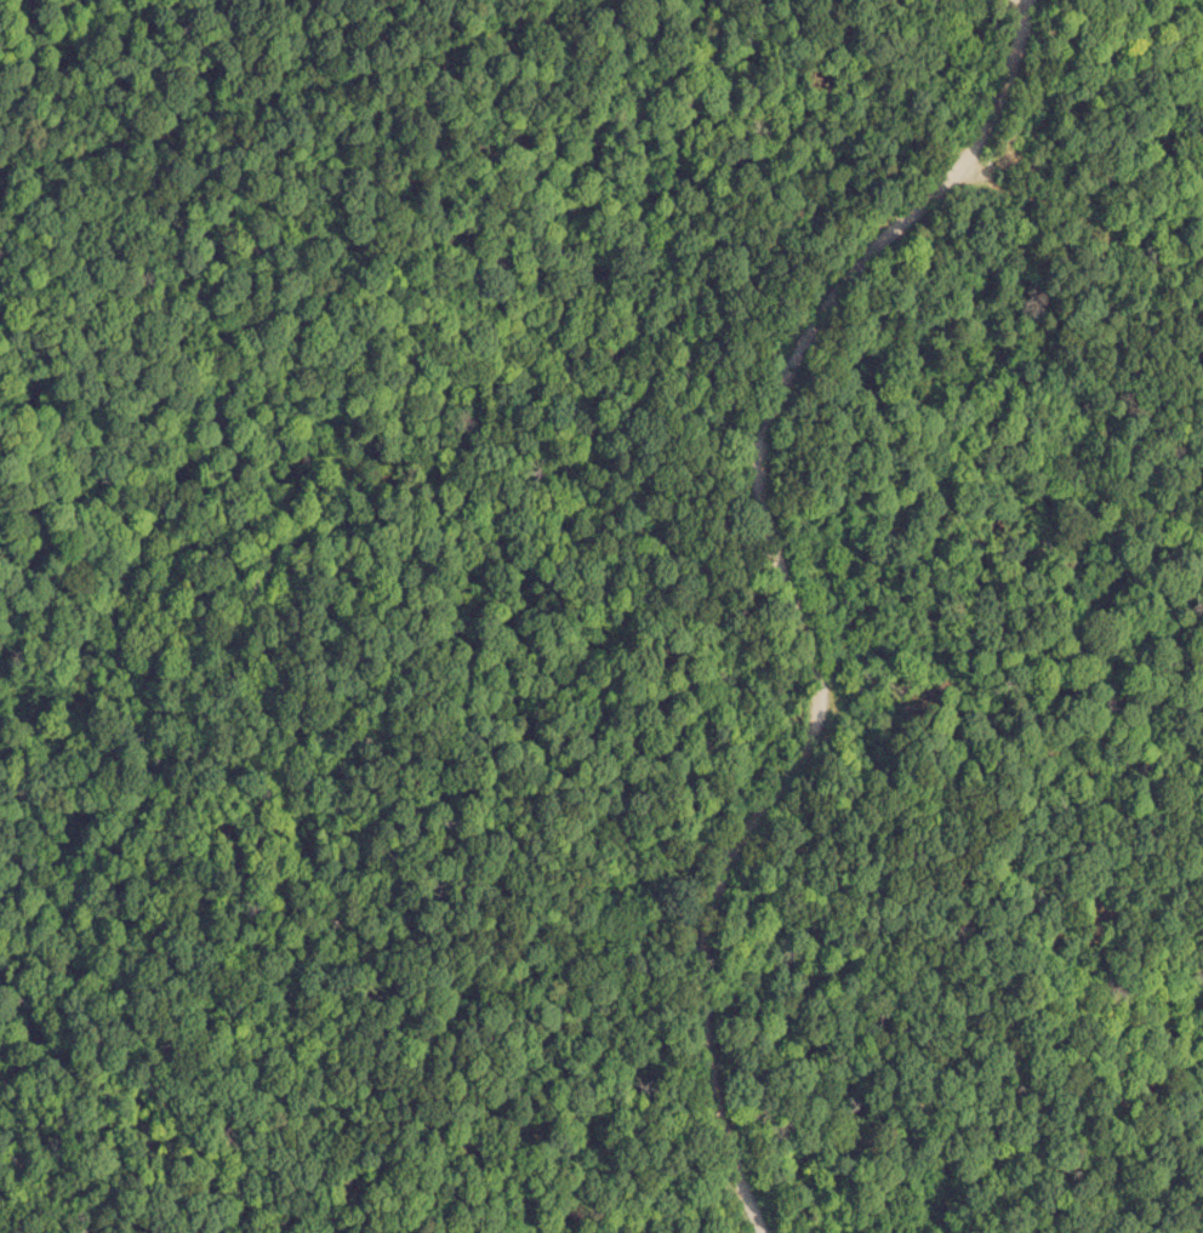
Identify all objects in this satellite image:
road: (1107, 223)
road: (810, 606)

